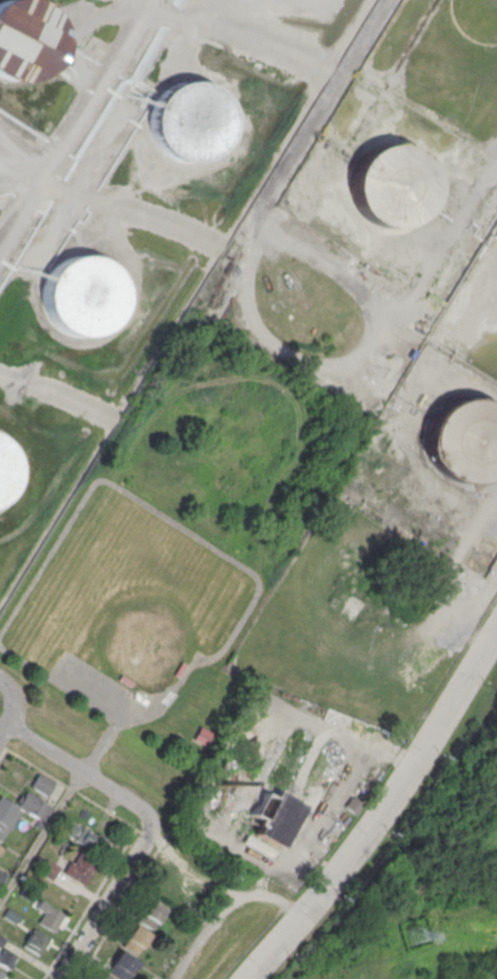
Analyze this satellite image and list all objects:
building: (21, 48)
building: (189, 121)
storage tank: (189, 121)
building: (392, 184)
storage tank: (392, 184)
building: (84, 294)
storage tank: (84, 294)
building: (464, 438)
storage tank: (464, 438)
building: (6, 468)
storage tank: (6, 468)
park: (167, 550)
road: (13, 700)
road: (3, 728)
road: (339, 728)
road: (80, 771)
chimney: (218, 782)
building: (43, 784)
road: (381, 811)
building: (8, 814)
building: (274, 817)
road: (40, 835)
building: (85, 836)
building: (0, 846)
building: (80, 868)
building: (2, 876)
road: (106, 899)
building: (151, 914)
building: (50, 916)
power tower: (415, 934)
building: (36, 941)
building: (135, 941)
building: (6, 958)
building: (121, 966)
building: (2, 975)
building: (104, 978)

